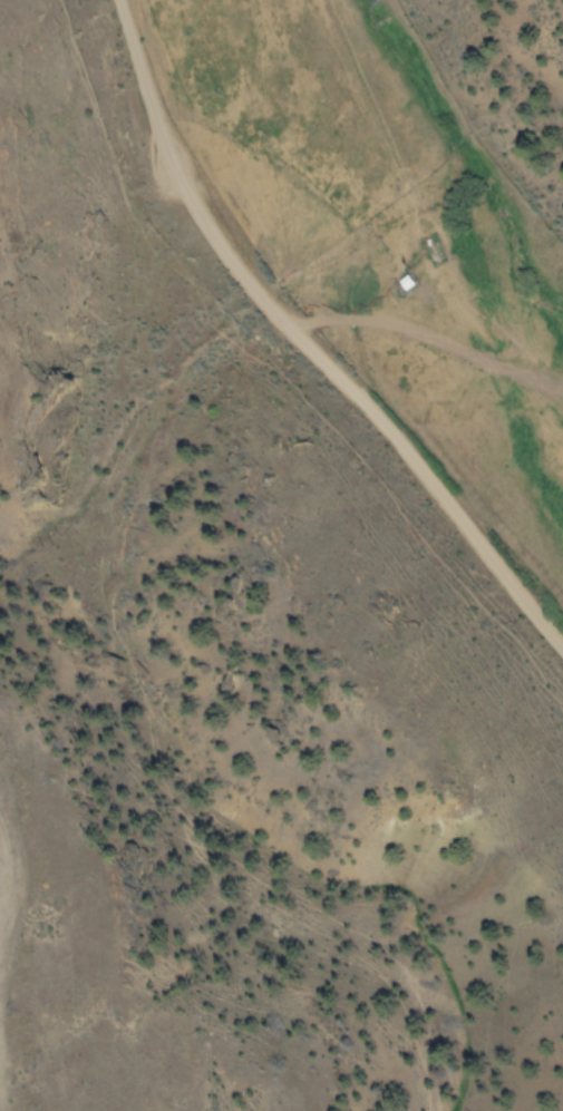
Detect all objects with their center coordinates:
building: (406, 284)
road: (318, 325)

